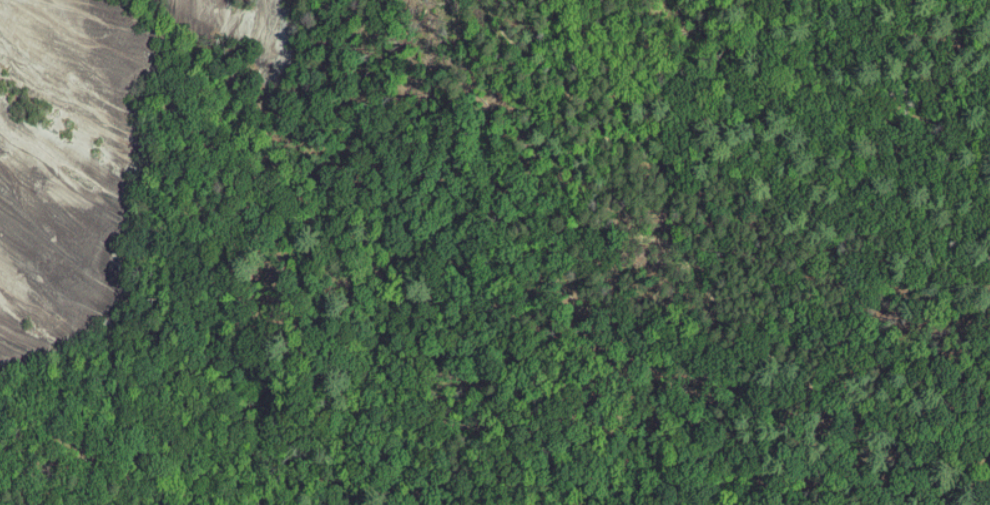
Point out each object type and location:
road: (596, 50)
road: (534, 58)
road: (742, 325)

